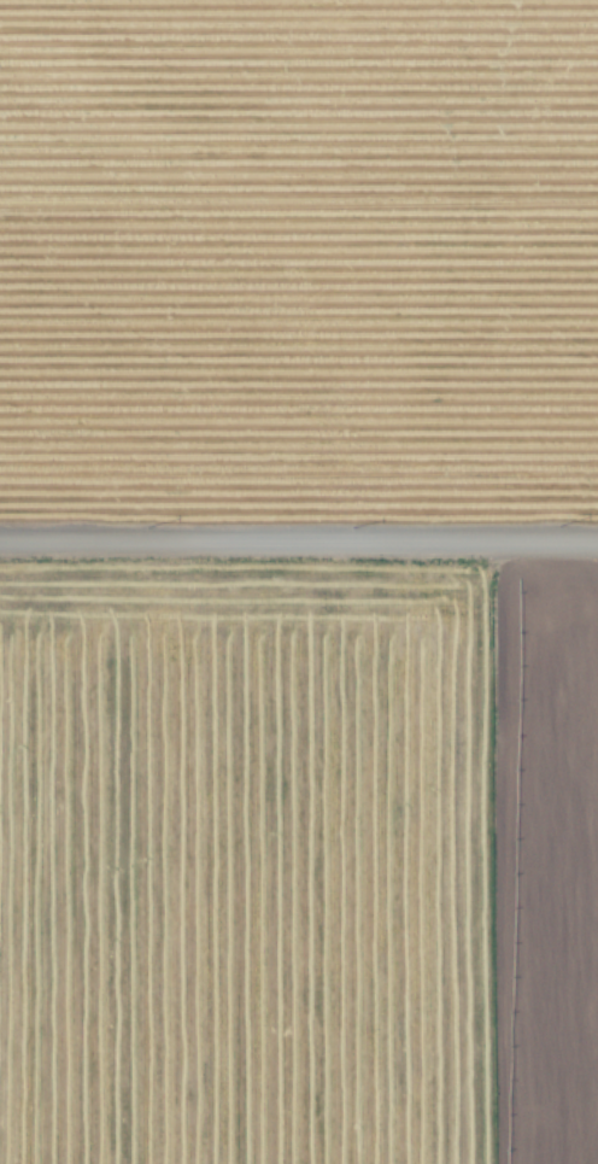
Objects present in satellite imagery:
crop: (298, 269)
road: (299, 539)
crop: (551, 868)
crop: (252, 875)

